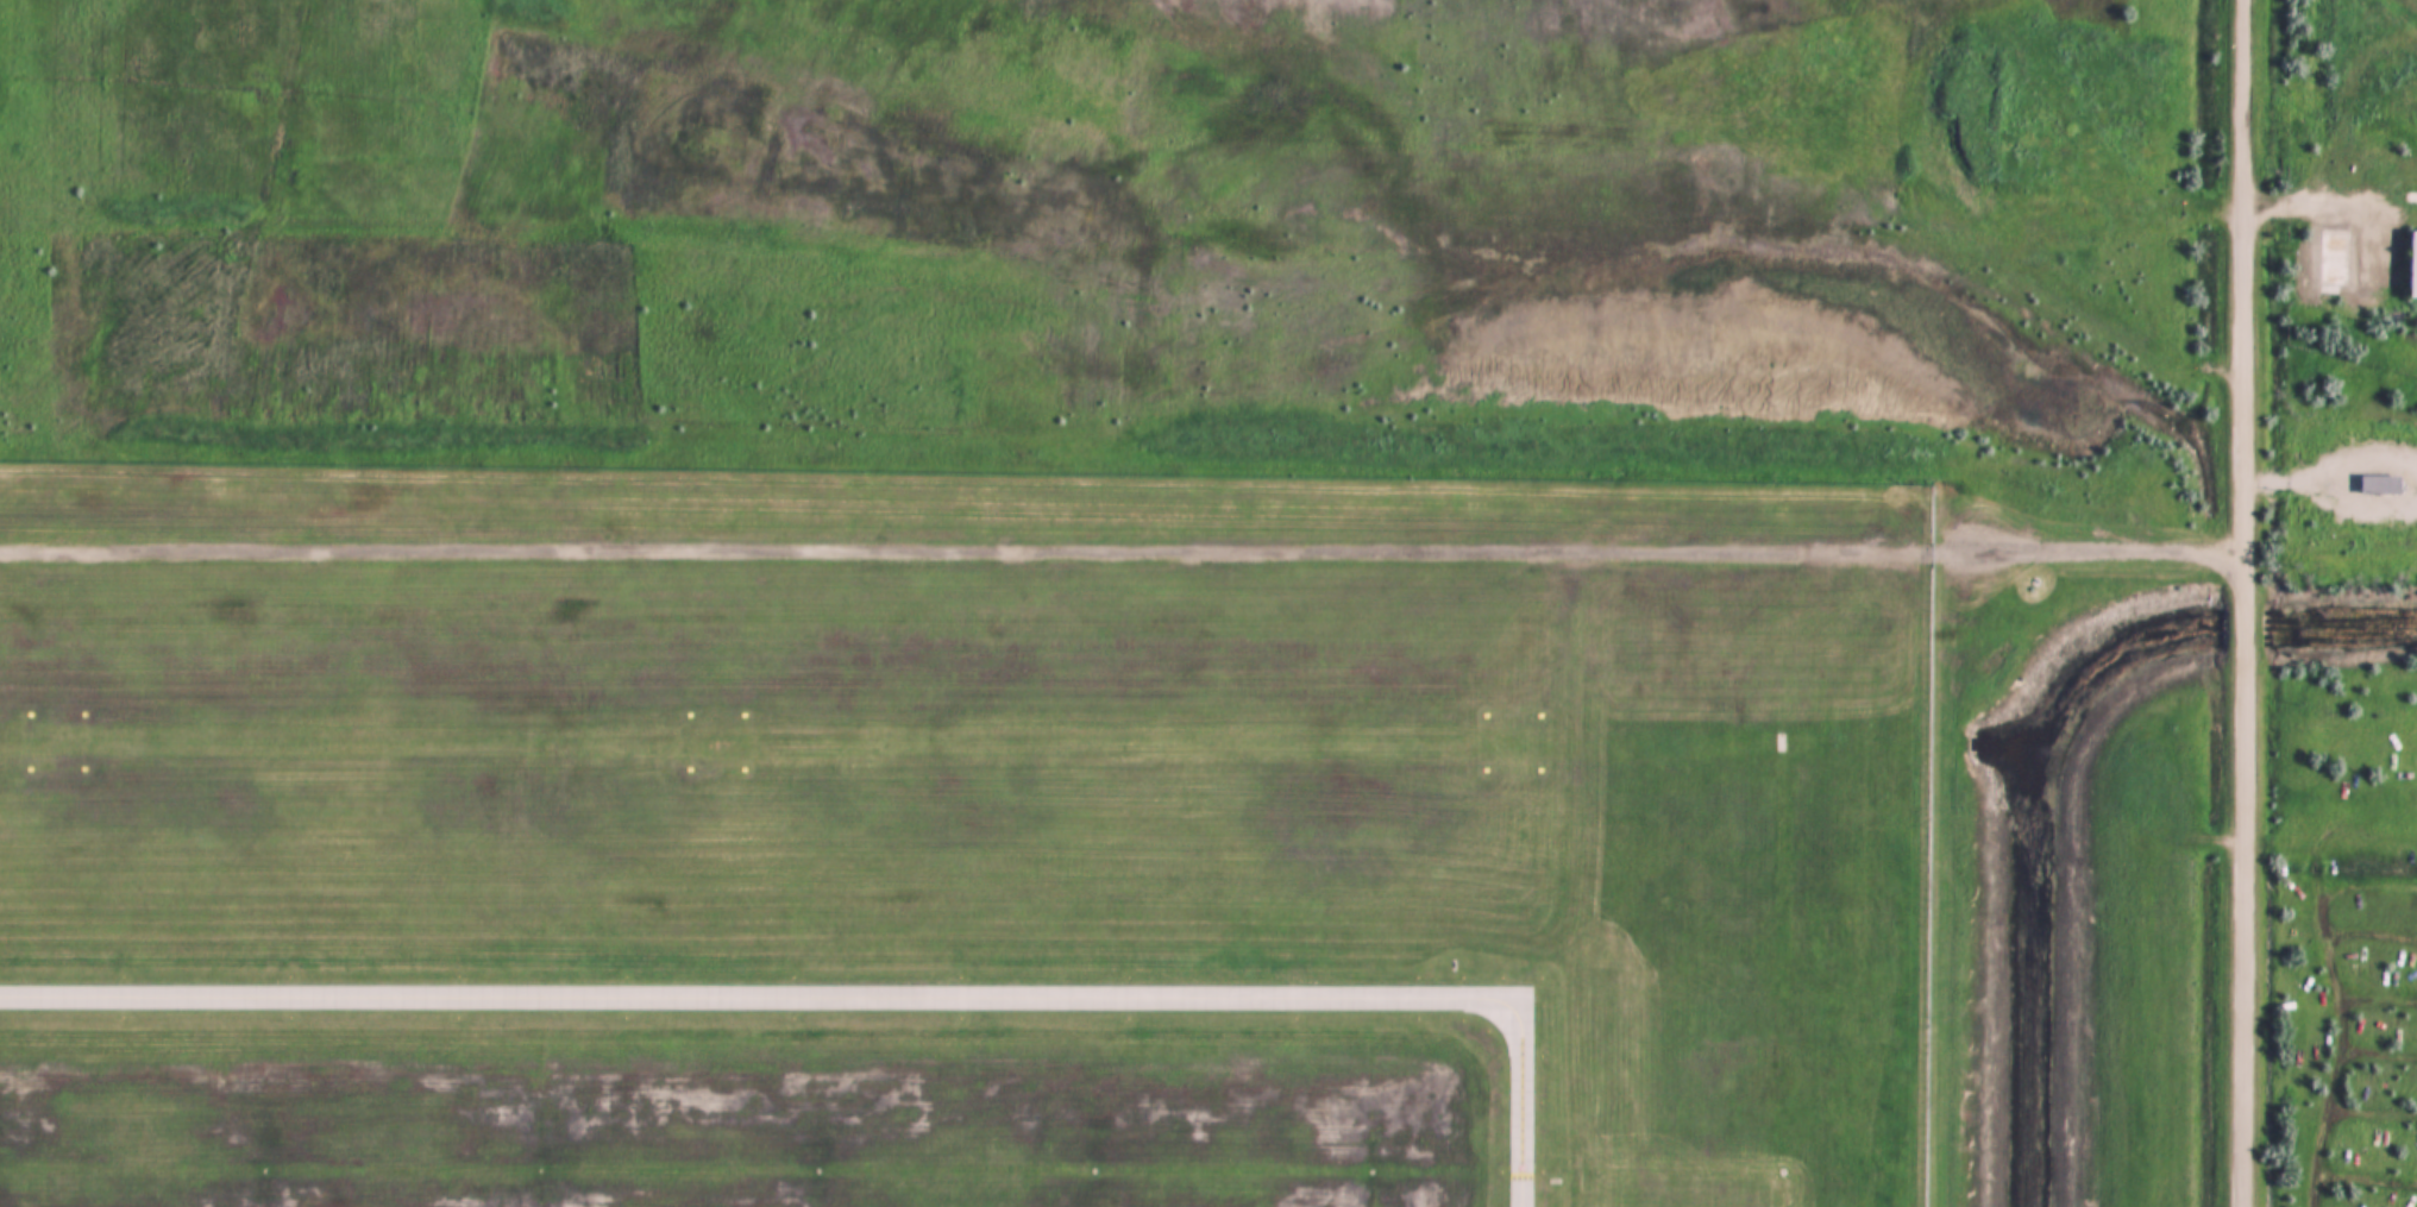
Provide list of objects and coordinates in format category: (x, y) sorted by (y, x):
road: (2247, 96)
road: (2331, 199)
building: (2338, 258)
building: (2413, 265)
road: (1119, 552)
airport: (1027, 583)
road: (2242, 699)
airport taxiway: (761, 995)
airport taxiway: (1523, 1101)

